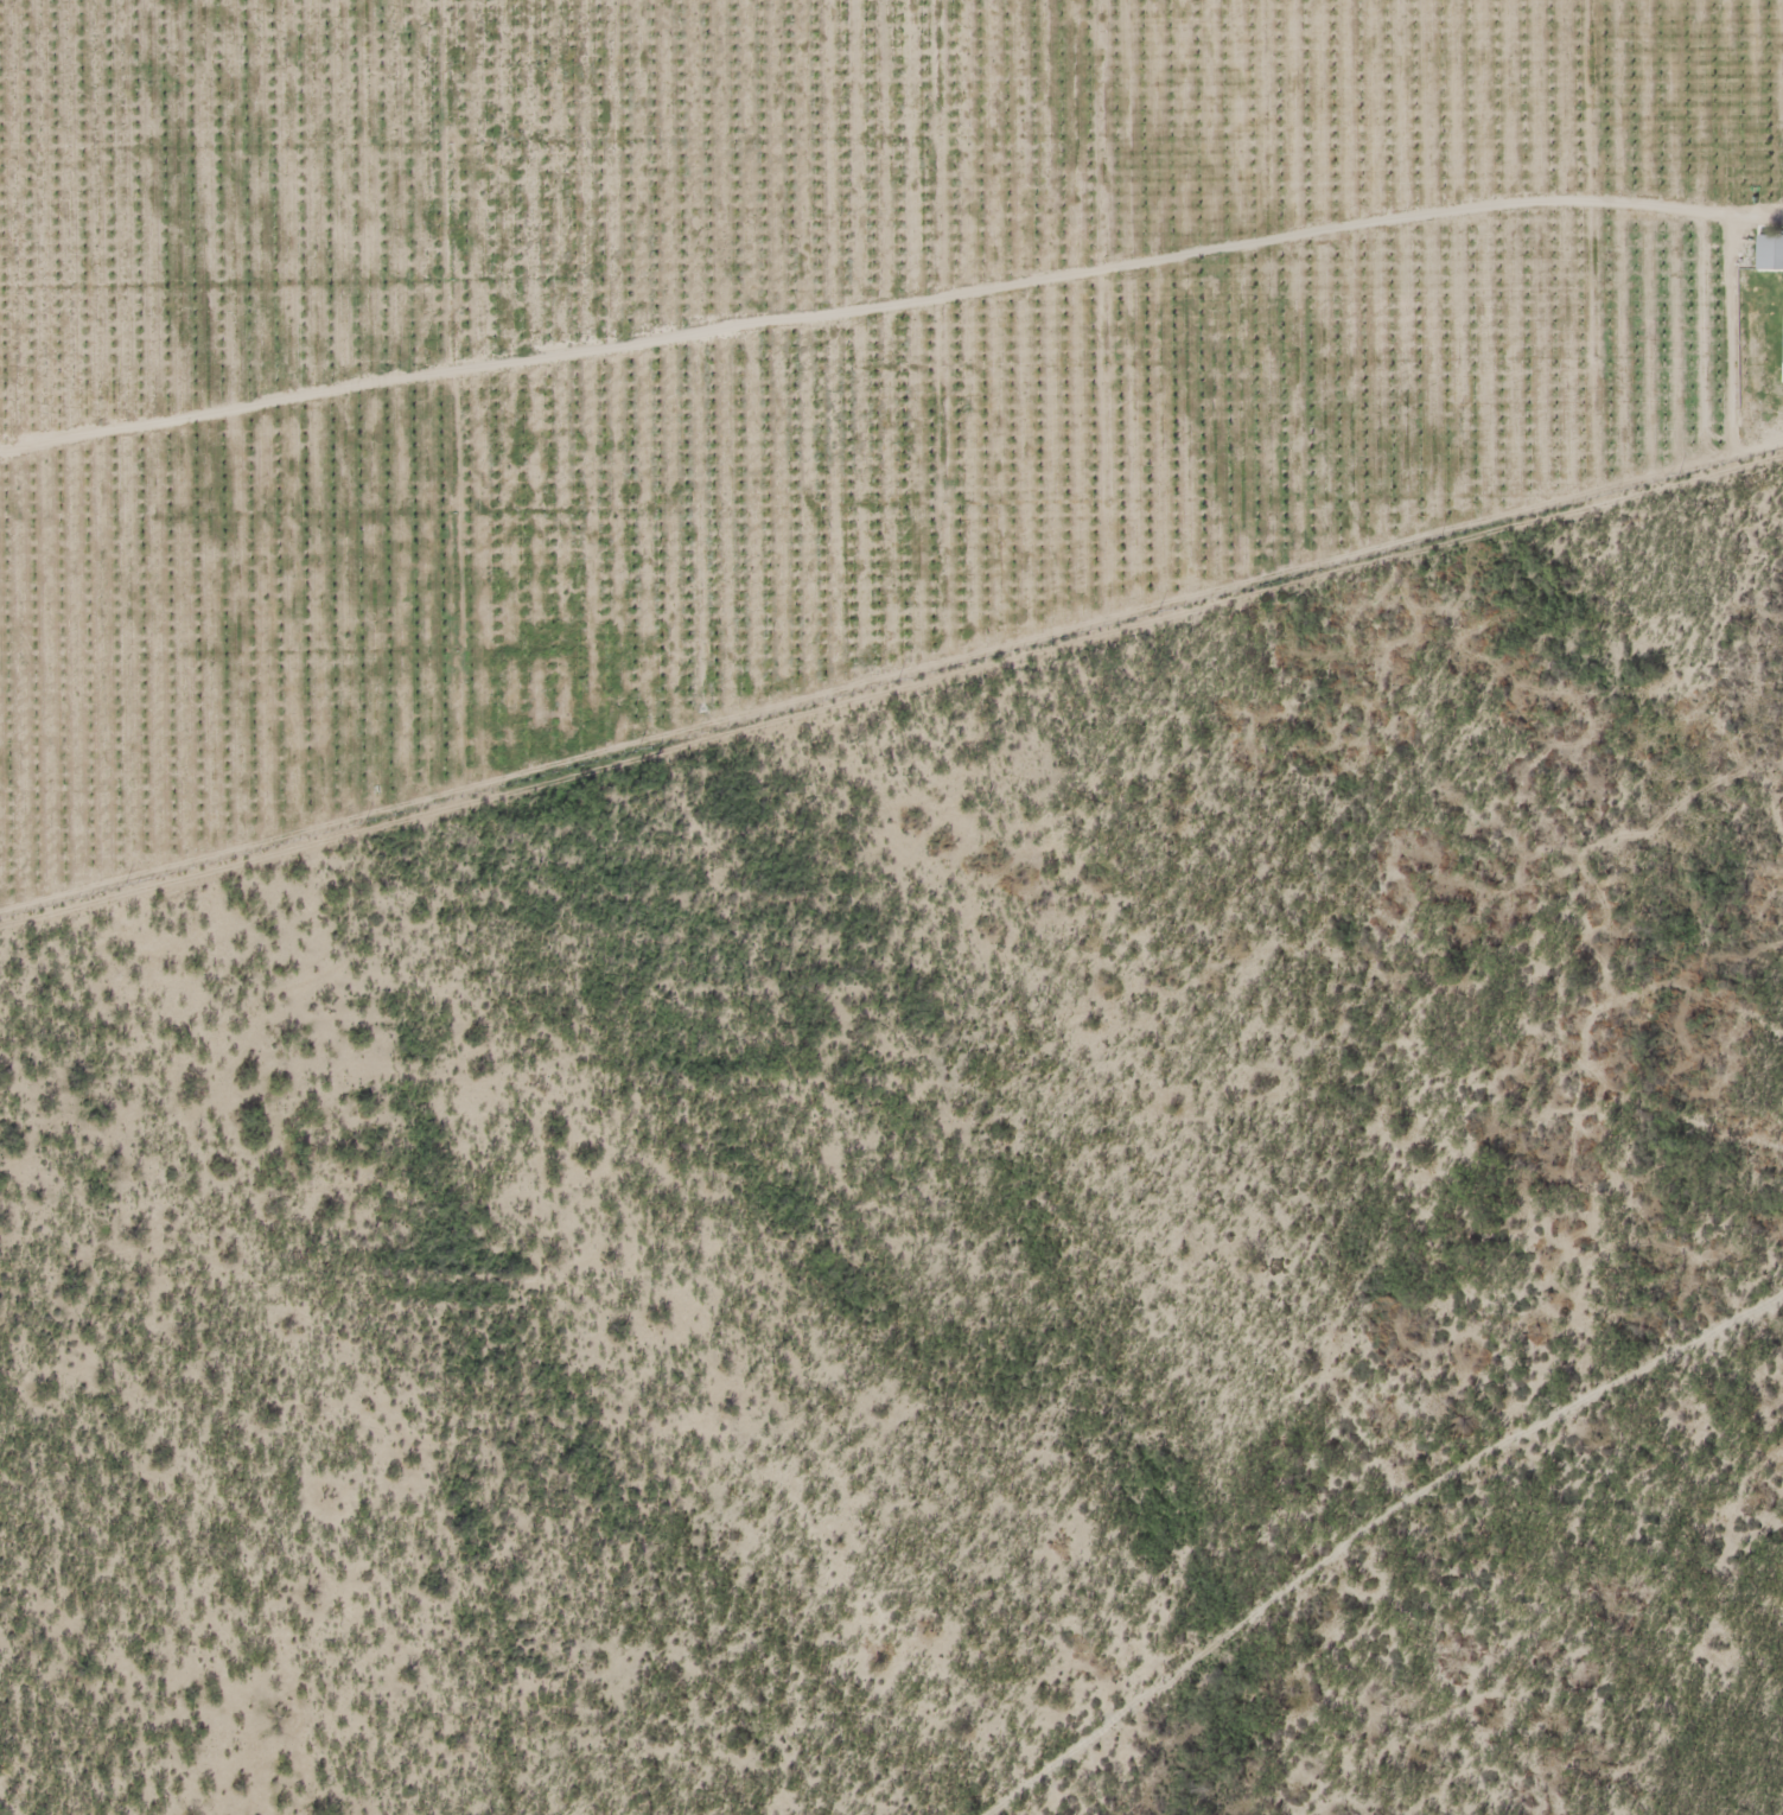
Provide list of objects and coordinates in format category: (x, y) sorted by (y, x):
building: (1765, 256)

